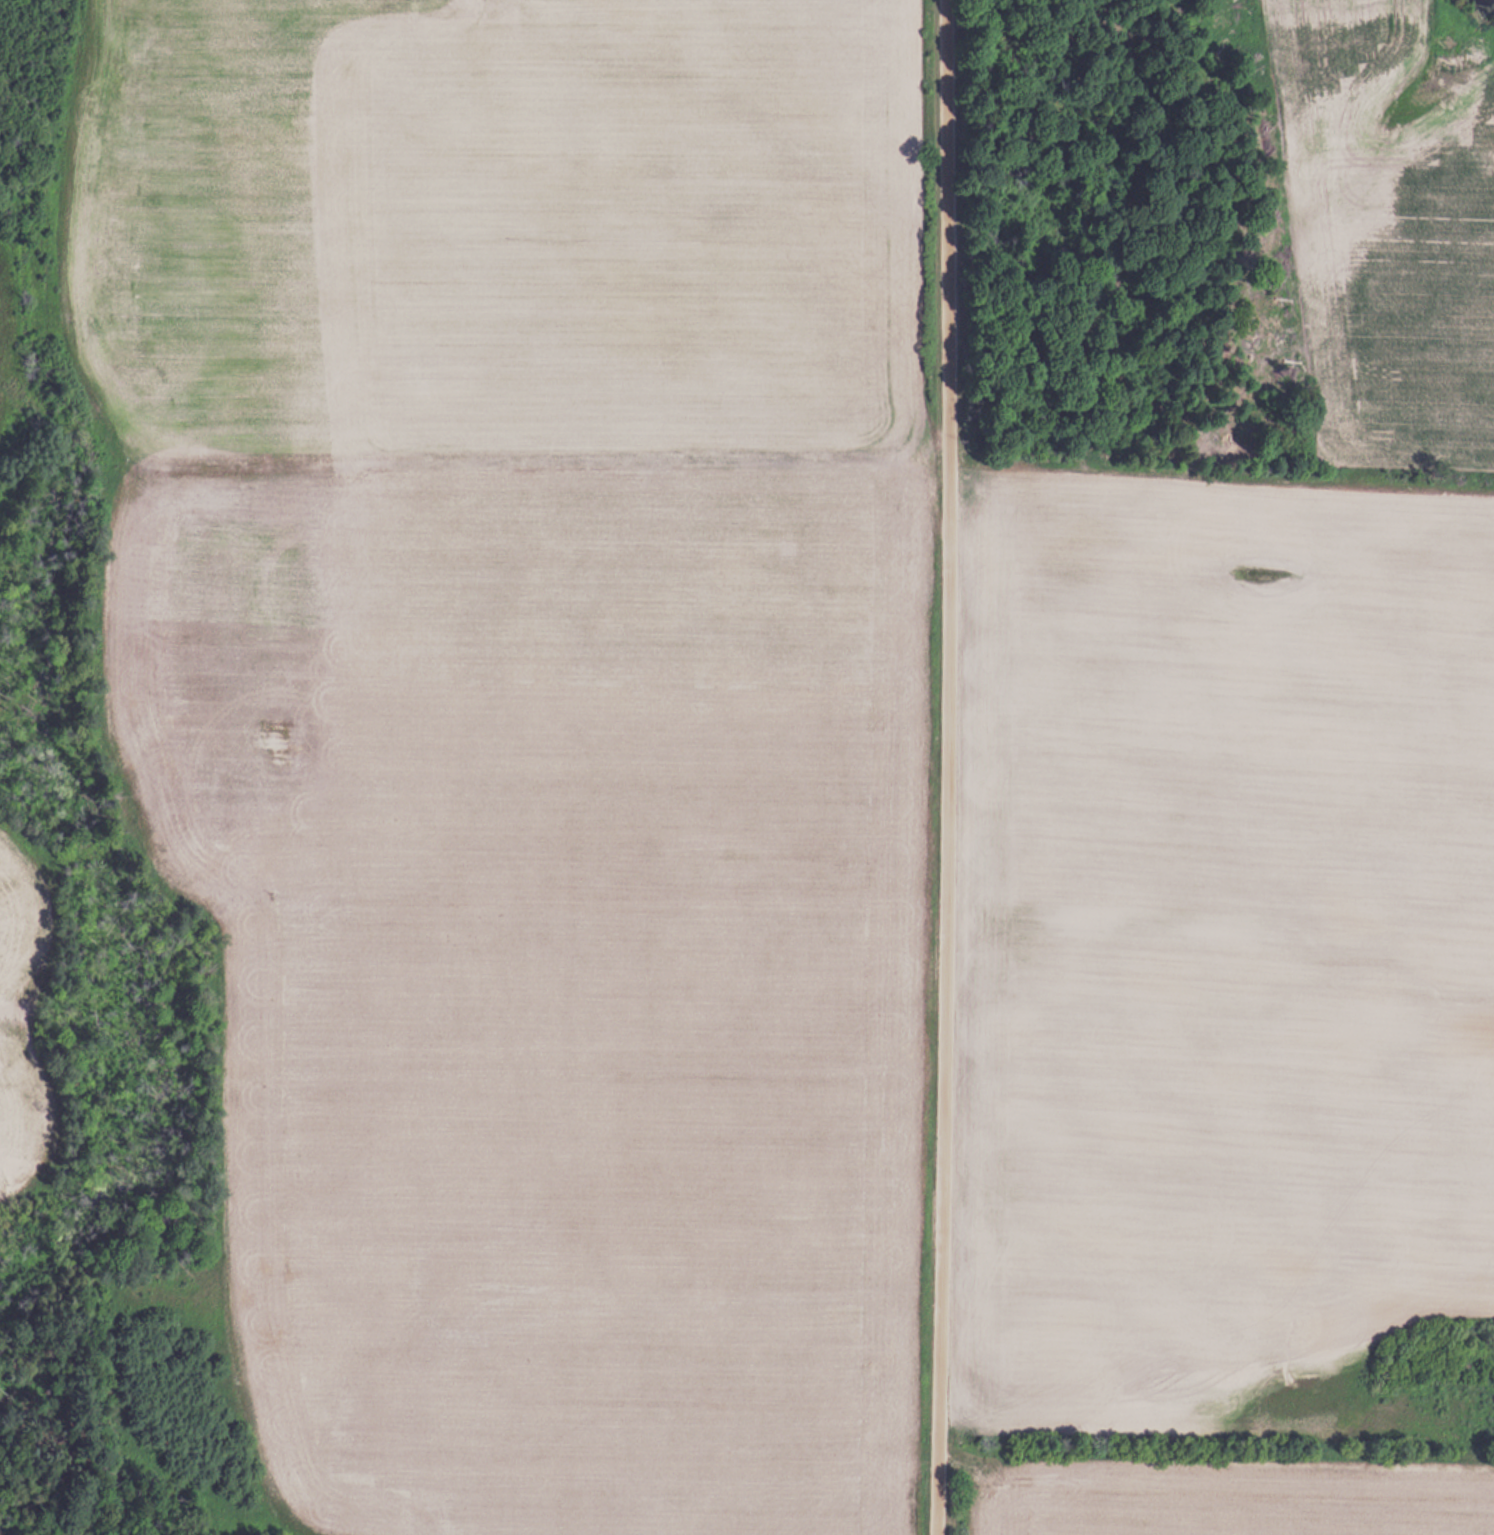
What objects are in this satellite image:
road: (949, 767)

